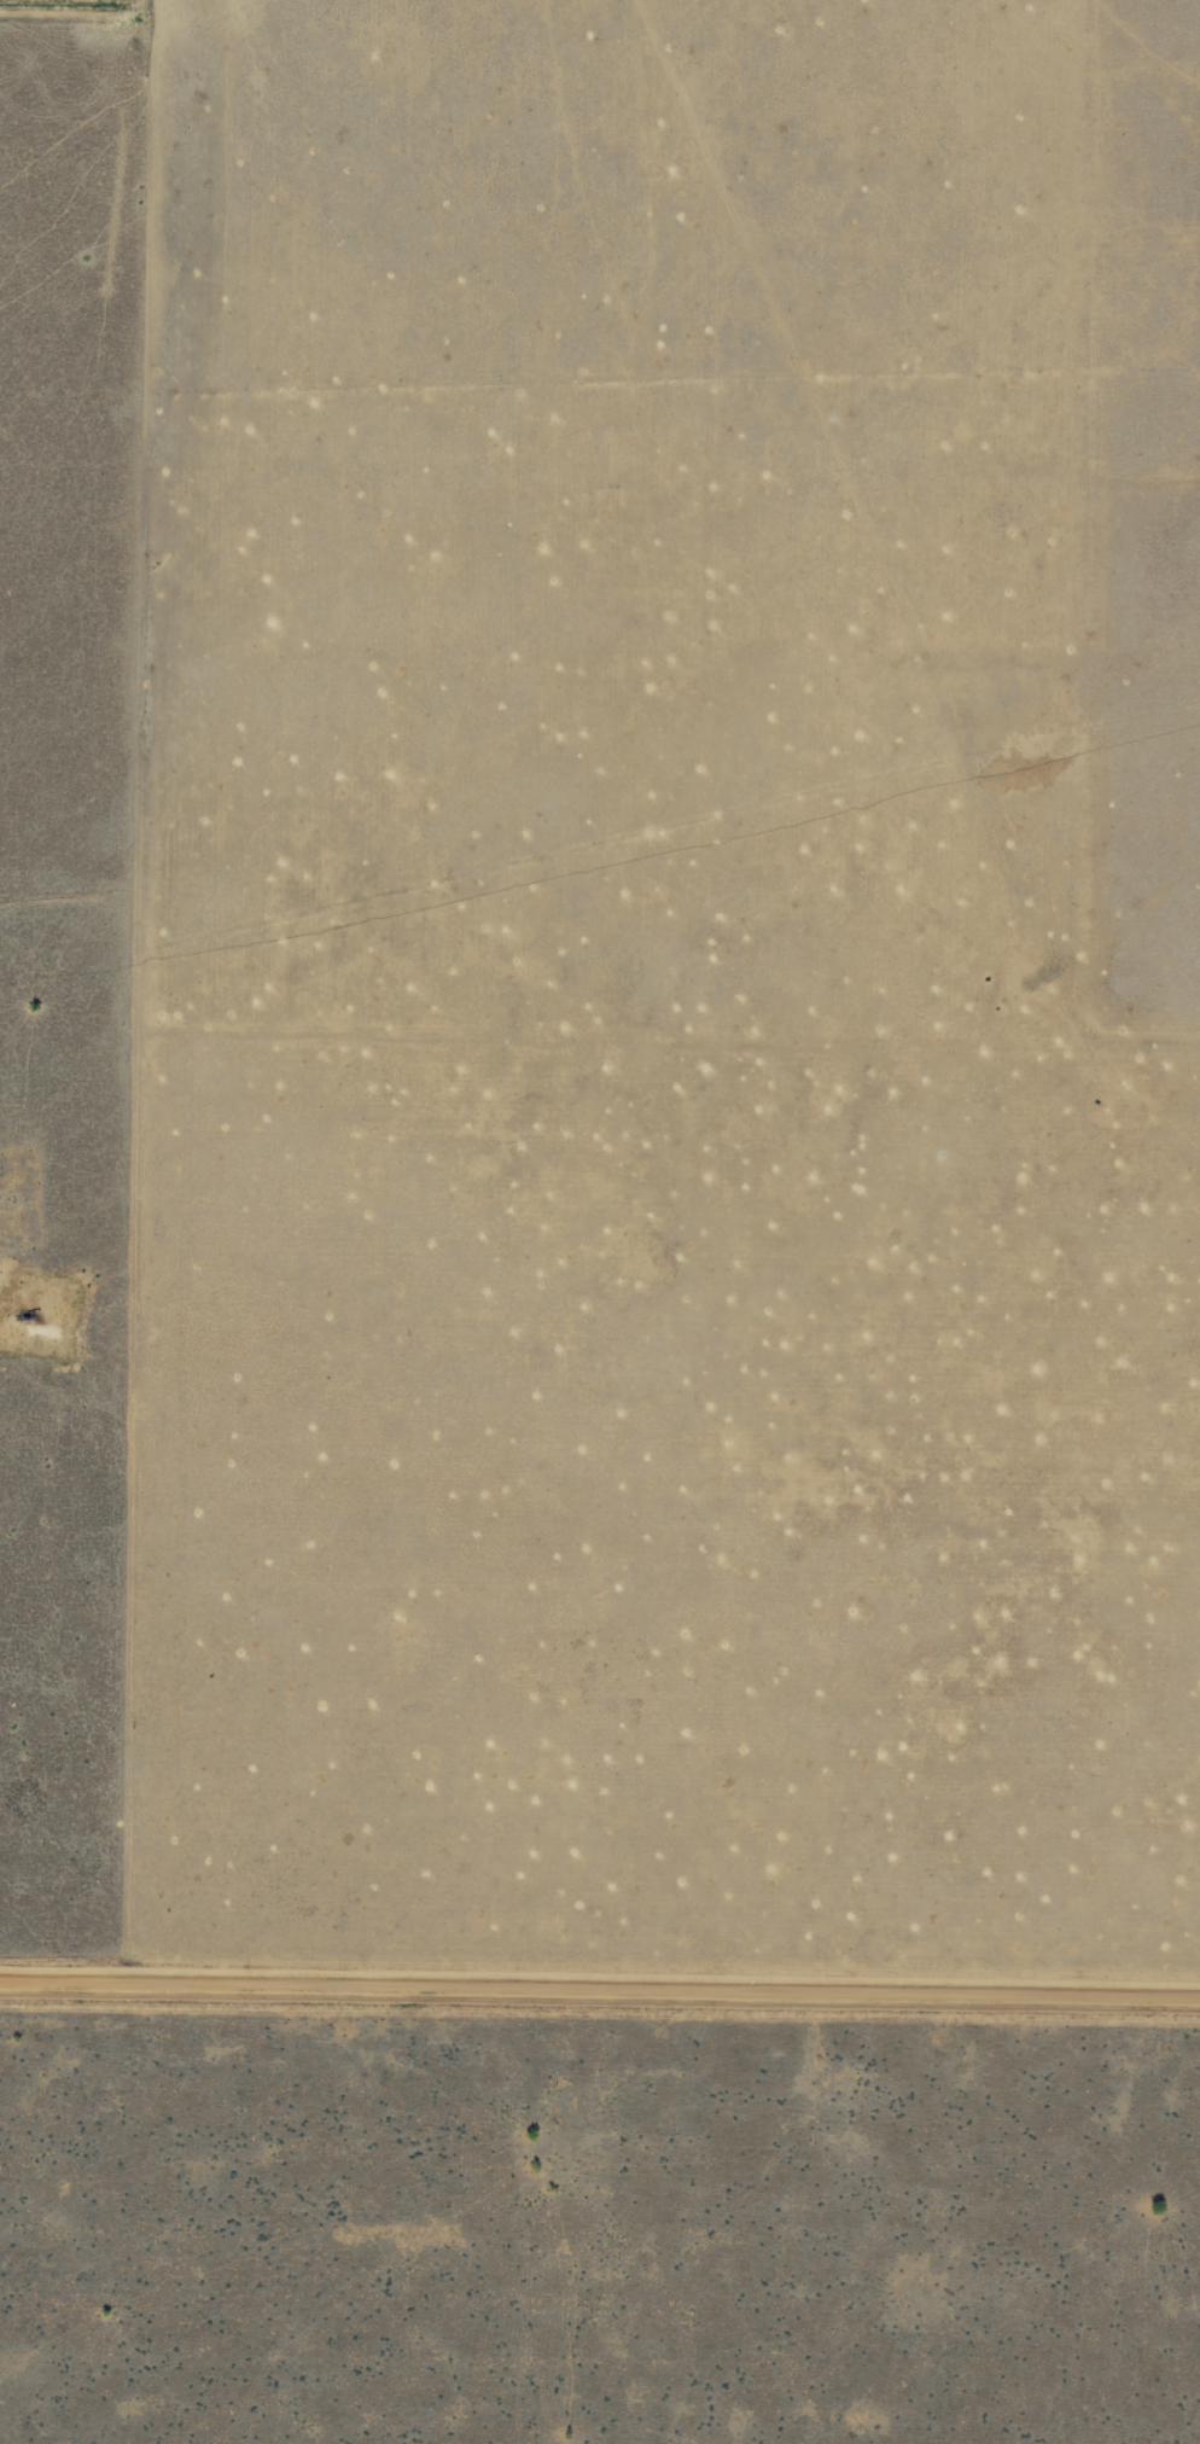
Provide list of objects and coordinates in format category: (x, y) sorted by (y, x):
road: (99, 31)
petroleum well: (18, 1326)
road: (600, 1991)

